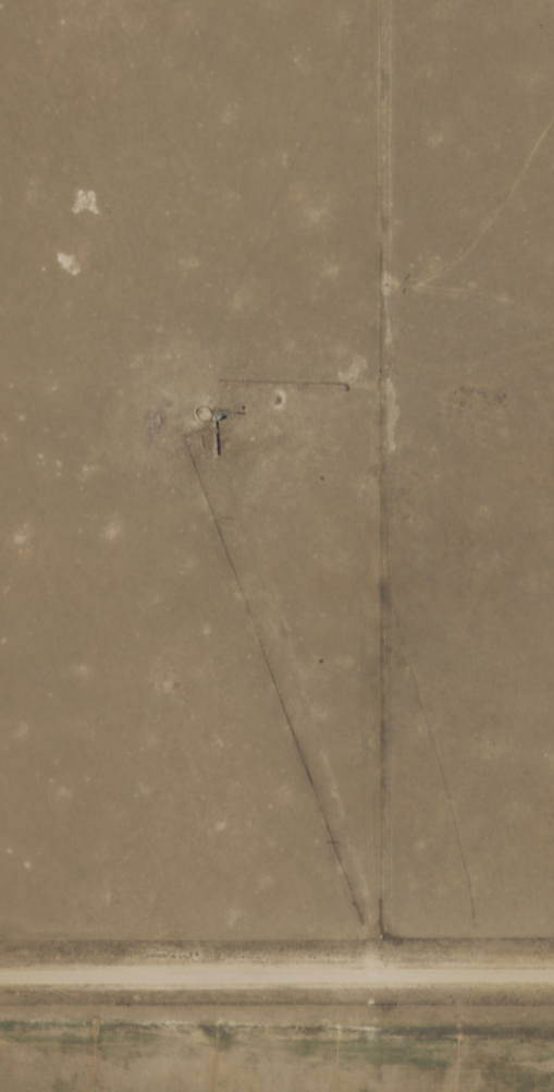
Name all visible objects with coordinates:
road: (276, 983)

